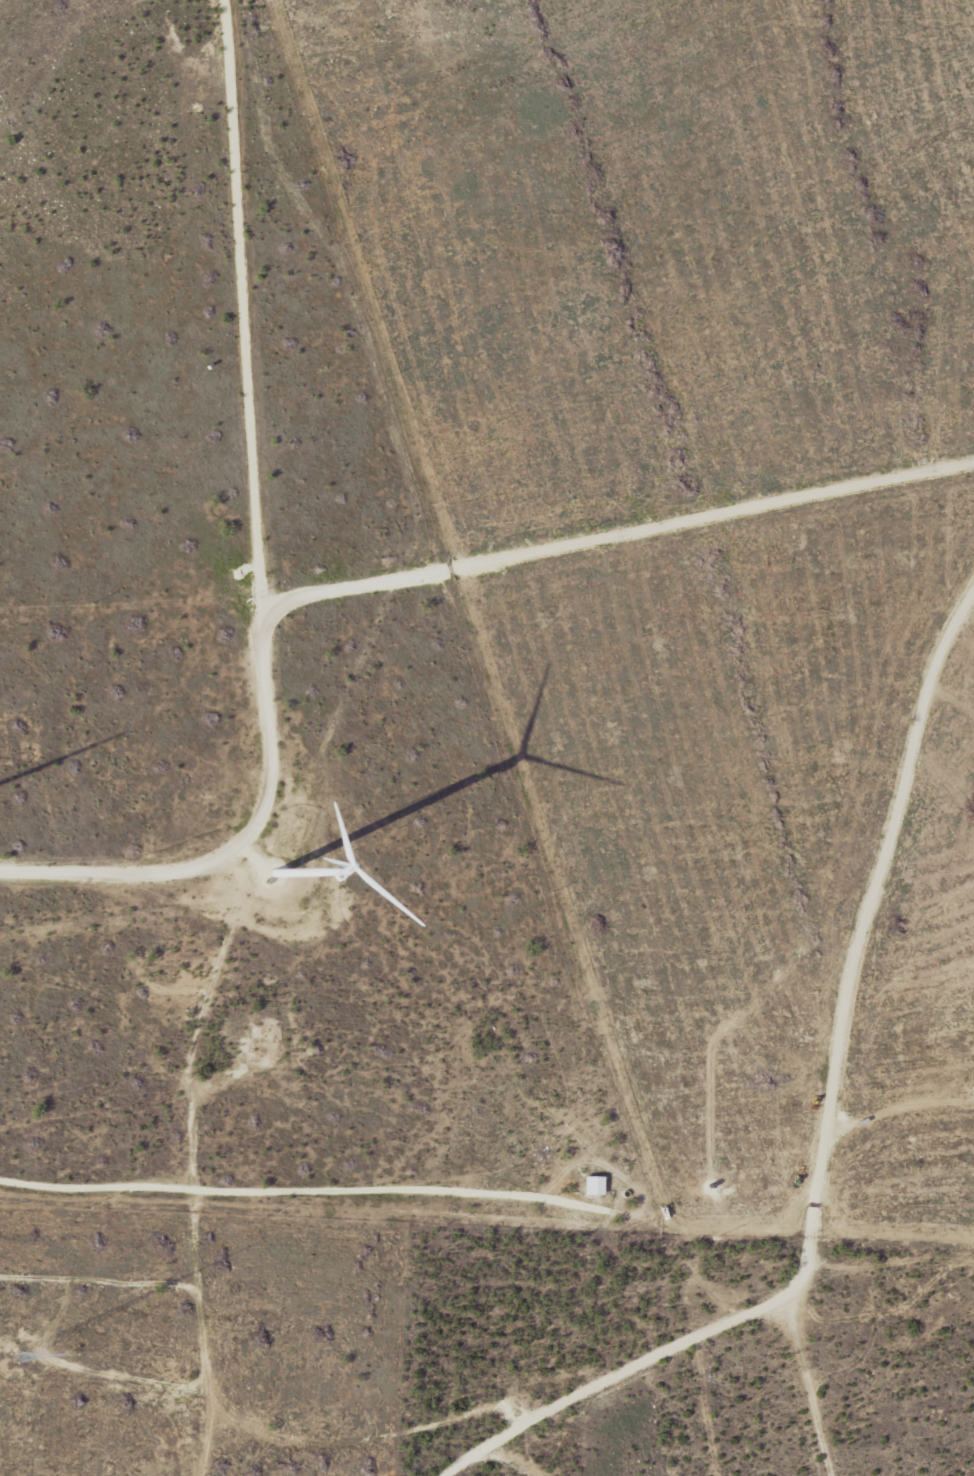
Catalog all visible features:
wind turbine: (275, 874)
road: (848, 1040)
building: (592, 1184)
road: (406, 1200)
road: (626, 1402)

